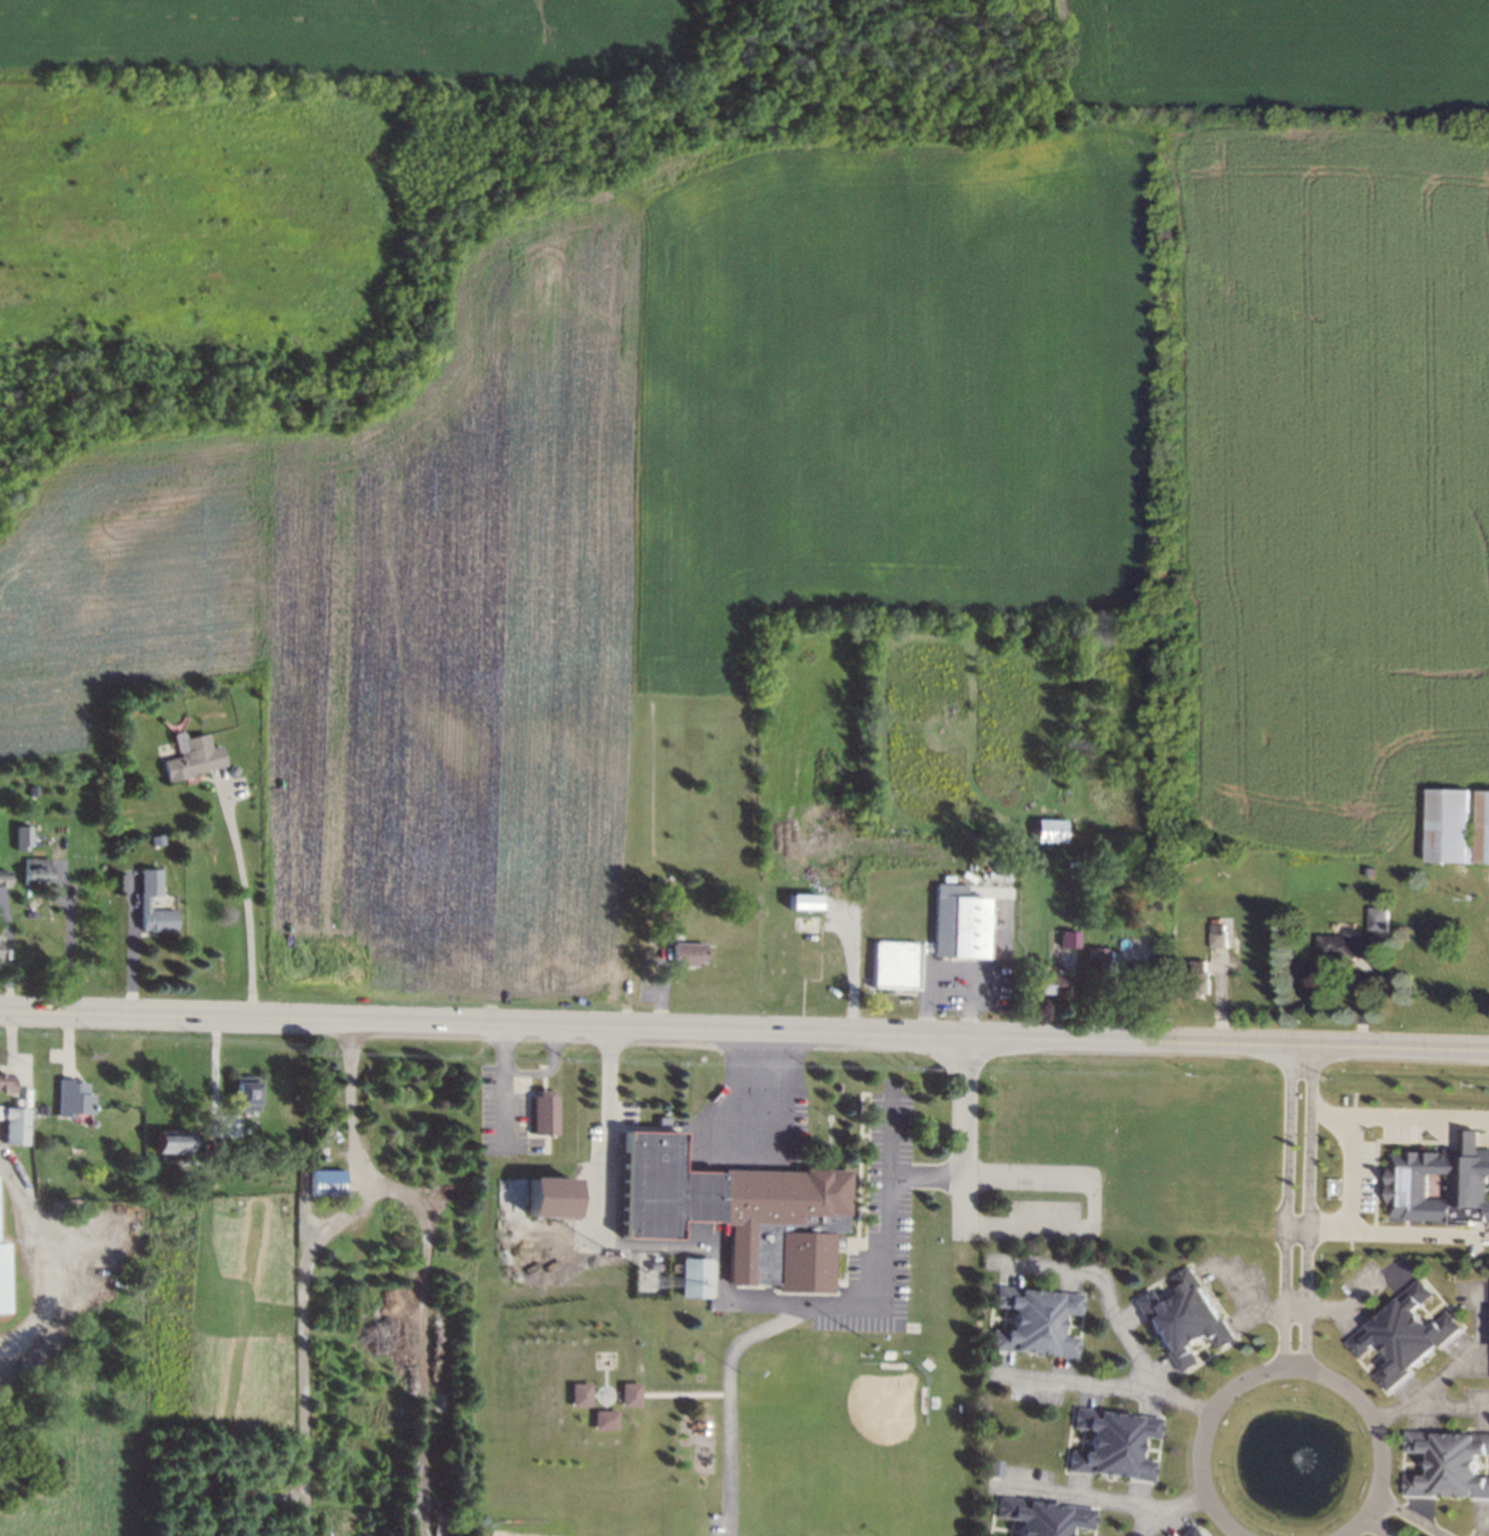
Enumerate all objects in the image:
building: (189, 757)
building: (230, 768)
building: (1454, 824)
building: (1045, 828)
building: (20, 837)
building: (154, 840)
building: (1363, 869)
building: (33, 870)
building: (0, 876)
building: (149, 885)
building: (799, 900)
road: (243, 903)
building: (30, 912)
building: (663, 912)
building: (1373, 917)
building: (157, 920)
building: (958, 921)
building: (1213, 936)
building: (1066, 937)
building: (1231, 937)
road: (69, 945)
building: (1337, 945)
road: (132, 950)
building: (684, 952)
building: (1094, 956)
road: (993, 964)
building: (897, 966)
road: (849, 975)
road: (948, 977)
building: (1199, 977)
building: (1051, 982)
building: (1138, 985)
road: (744, 1031)
road: (547, 1070)
road: (502, 1080)
building: (6, 1088)
building: (72, 1094)
road: (760, 1094)
building: (247, 1097)
road: (351, 1098)
building: (546, 1106)
road: (1412, 1115)
building: (14, 1128)
building: (172, 1142)
road: (1344, 1174)
building: (327, 1188)
building: (1440, 1188)
building: (557, 1199)
road: (1284, 1206)
road: (1305, 1207)
building: (738, 1213)
road: (1088, 1225)
road: (1294, 1228)
road: (1407, 1232)
road: (46, 1260)
building: (658, 1264)
road: (1101, 1278)
building: (3, 1279)
building: (697, 1279)
road: (1235, 1290)
road: (777, 1301)
road: (1347, 1302)
building: (1188, 1323)
building: (1041, 1326)
road: (422, 1332)
building: (1402, 1341)
road: (300, 1345)
road: (1443, 1366)
road: (1283, 1367)
road: (1101, 1380)
building: (581, 1395)
building: (631, 1395)
road: (1444, 1404)
park: (711, 1419)
building: (606, 1421)
park: (856, 1425)
building: (1119, 1451)
building: (1450, 1467)
building: (998, 1468)
road: (1072, 1495)
road: (1160, 1510)
road: (1404, 1518)
building: (1047, 1520)
road: (1480, 1520)
park: (555, 1528)
road: (1362, 1532)
building: (1194, 1534)

